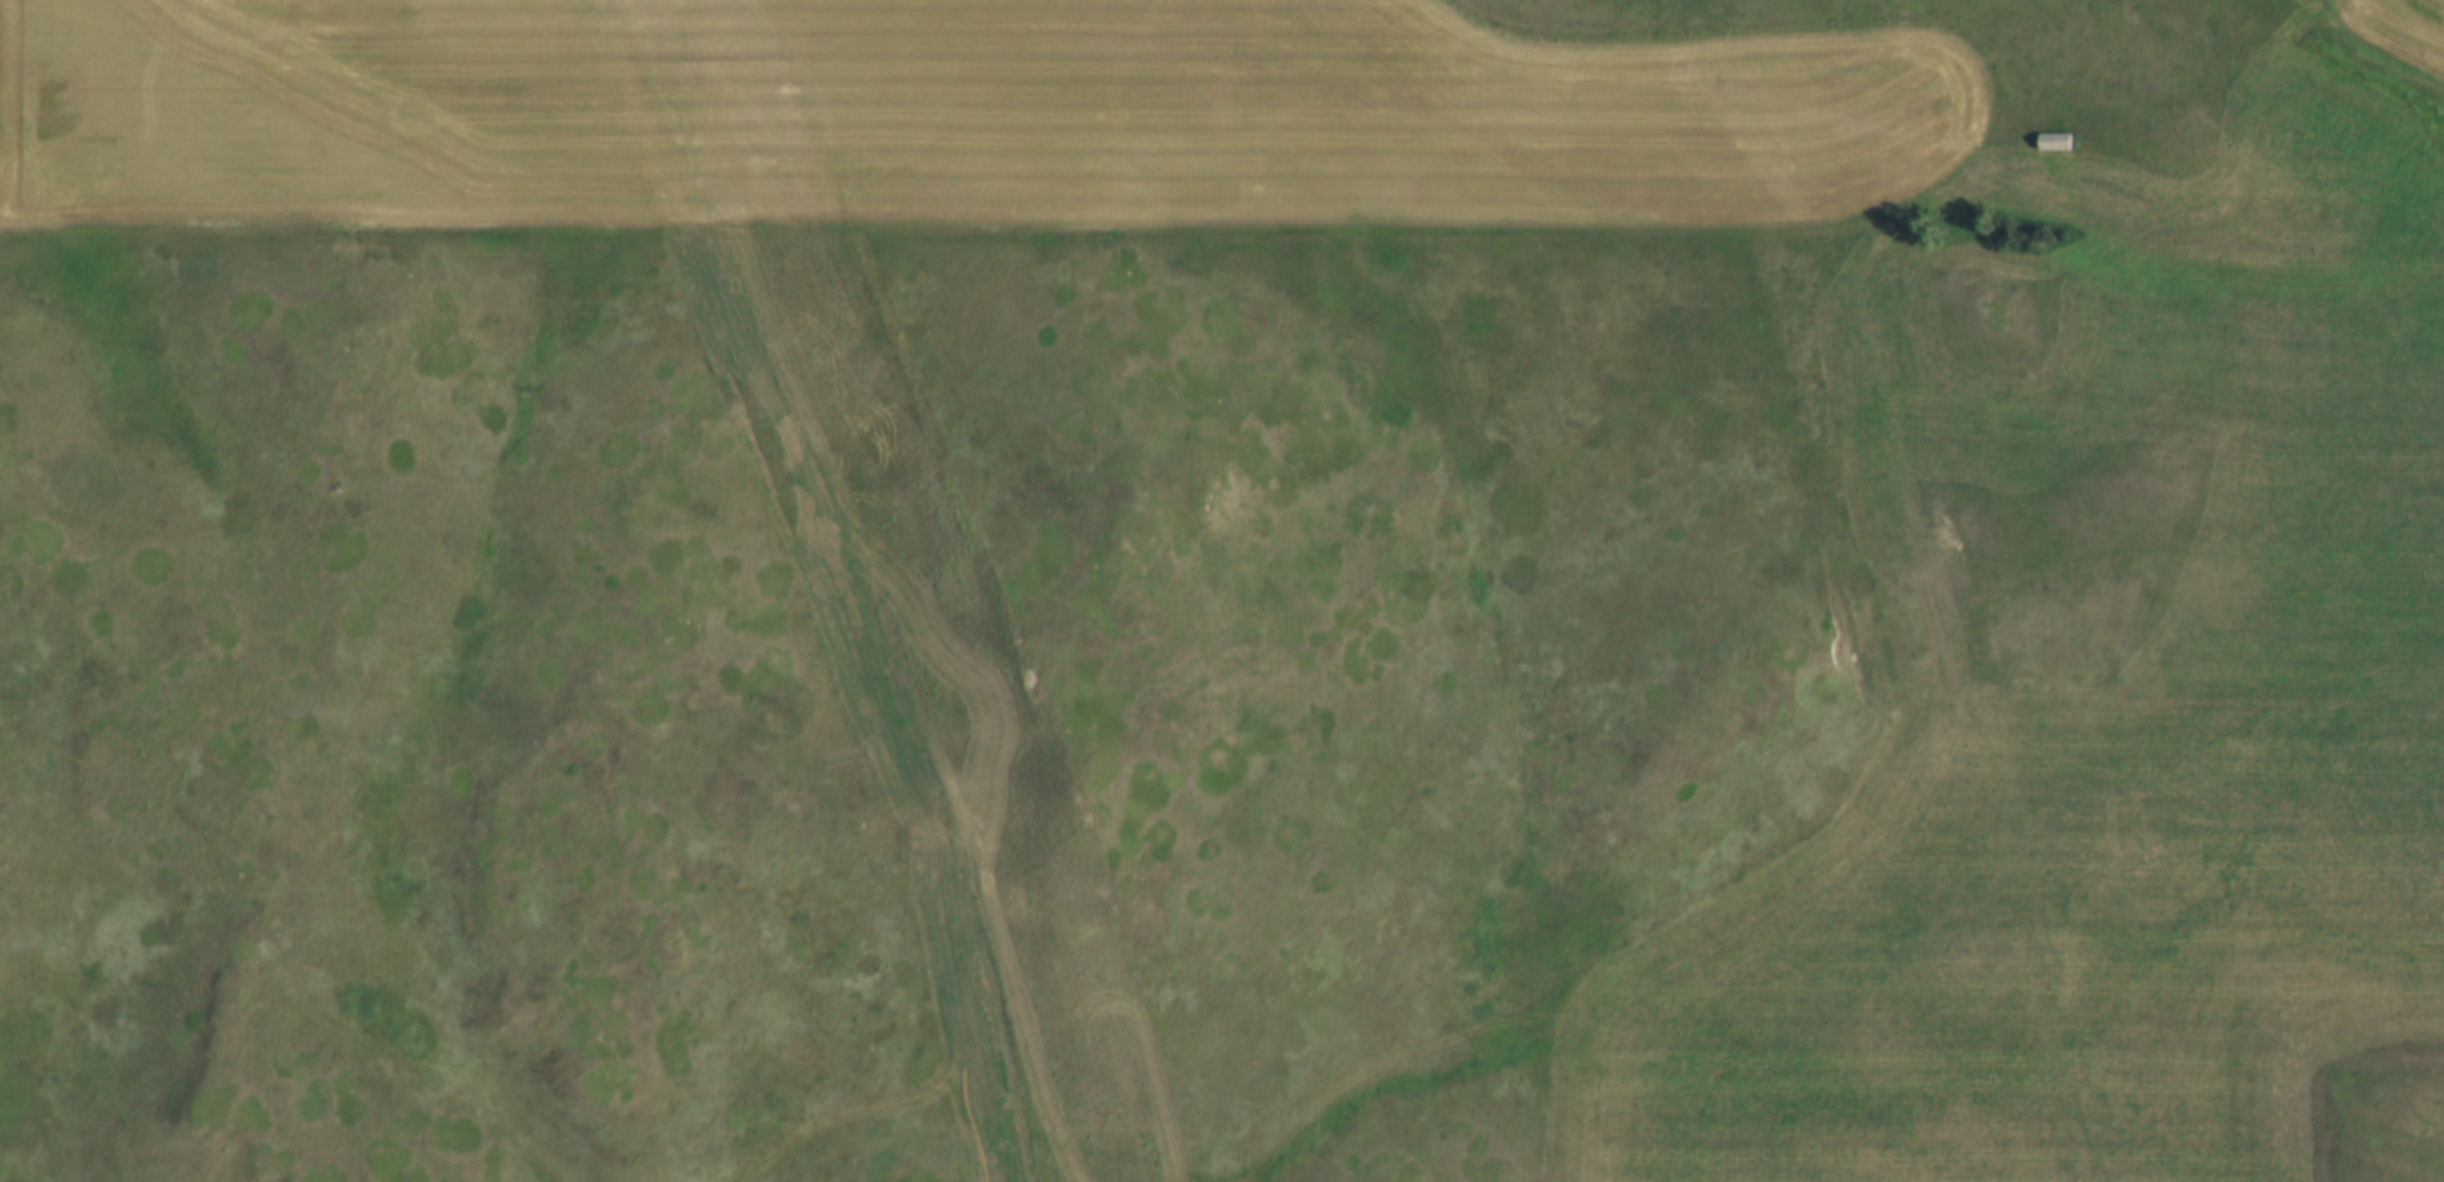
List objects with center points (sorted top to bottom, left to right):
building: (2051, 140)

